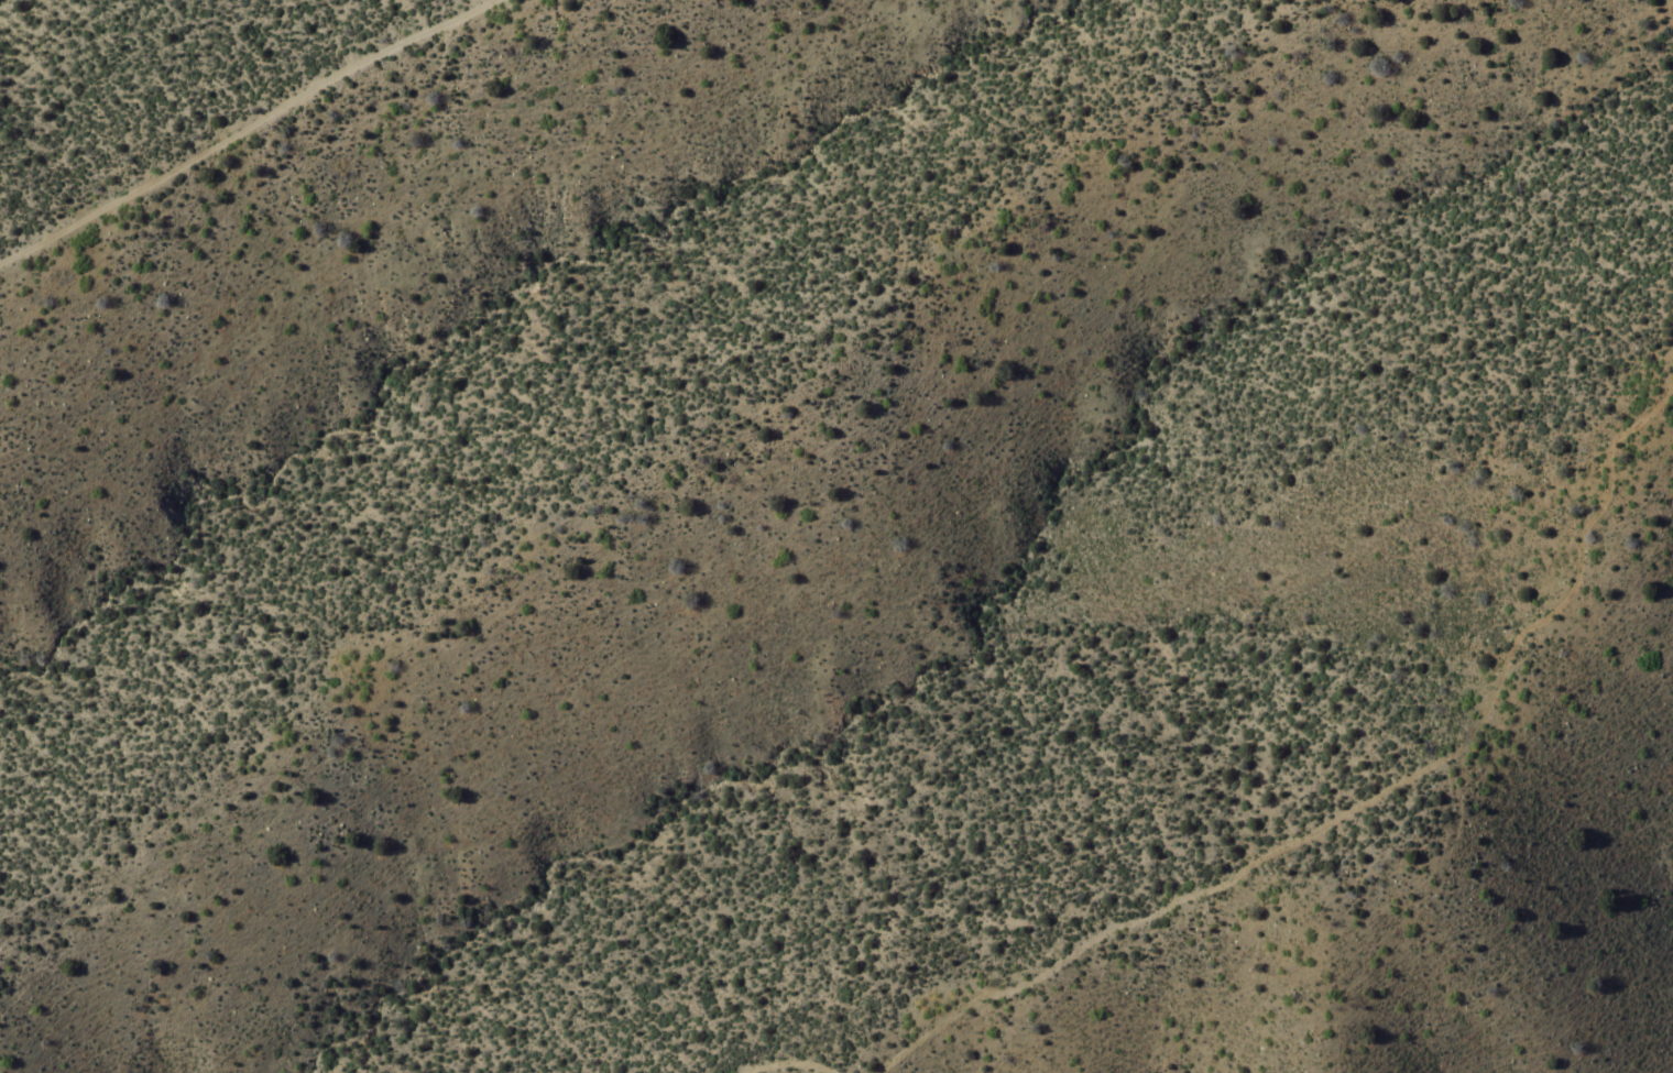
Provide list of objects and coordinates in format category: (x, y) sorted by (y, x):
road: (244, 127)

